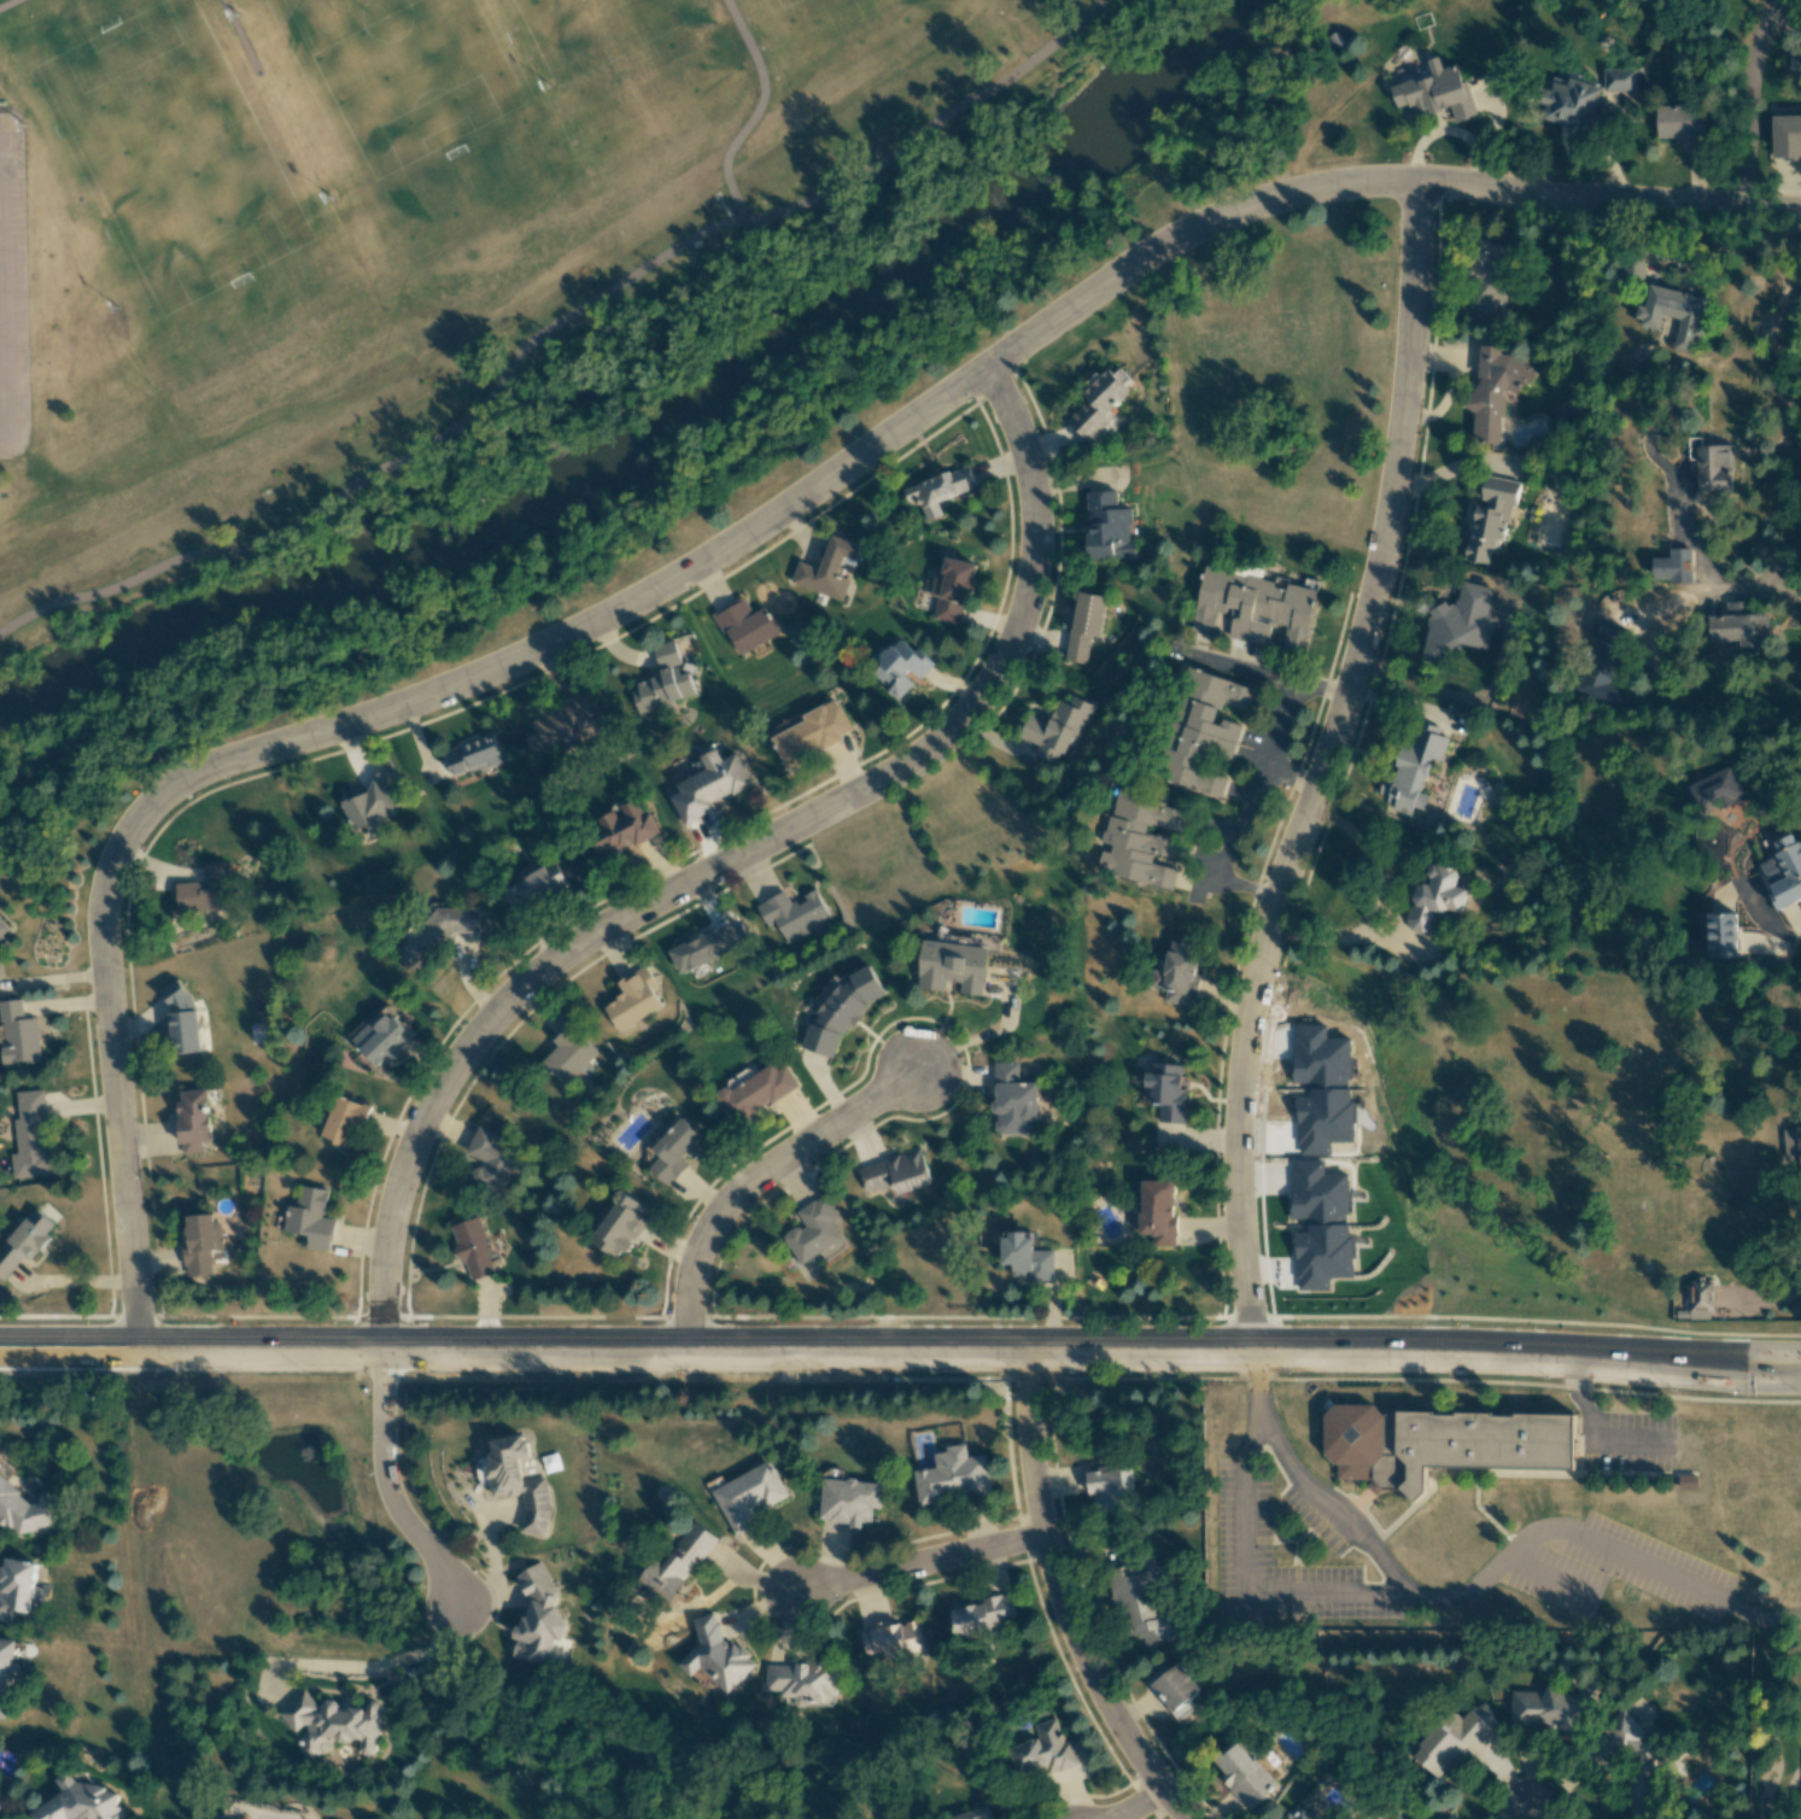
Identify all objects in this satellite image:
park: (767, 1)
road: (7, 4)
road: (240, 35)
park: (615, 39)
building: (1795, 68)
building: (1619, 78)
park: (388, 90)
building: (1435, 92)
road: (1737, 98)
building: (1569, 104)
road: (753, 110)
building: (1680, 122)
building: (1787, 136)
park: (173, 150)
park: (452, 255)
building: (1632, 268)
building: (1490, 279)
parking lot: (12, 291)
building: (1673, 314)
road: (549, 327)
building: (1493, 391)
road: (0, 396)
building: (1098, 404)
river: (661, 431)
road: (1784, 437)
building: (1712, 466)
building: (938, 491)
building: (1490, 519)
building: (1107, 527)
road: (719, 545)
building: (1673, 563)
building: (828, 569)
building: (952, 590)
road: (1698, 590)
building: (1255, 607)
building: (1458, 624)
building: (745, 625)
building: (1086, 625)
building: (1739, 626)
building: (901, 667)
building: (1602, 668)
building: (663, 682)
building: (560, 725)
building: (1057, 729)
building: (1205, 732)
building: (811, 735)
building: (474, 755)
road: (1318, 765)
building: (1414, 767)
road: (1290, 774)
building: (708, 785)
road: (1257, 785)
building: (1717, 790)
building: (374, 800)
building: (621, 829)
building: (1140, 840)
road: (731, 859)
building: (1784, 872)
building: (534, 887)
building: (204, 890)
building: (1435, 897)
road: (1379, 903)
building: (791, 914)
building: (2, 928)
building: (432, 932)
building: (1720, 932)
building: (708, 944)
building: (952, 965)
road: (49, 966)
building: (1177, 973)
building: (632, 999)
building: (840, 1010)
building: (182, 1018)
building: (17, 1034)
building: (382, 1037)
building: (569, 1054)
building: (1166, 1092)
building: (755, 1093)
building: (1013, 1100)
building: (193, 1119)
building: (345, 1121)
building: (30, 1136)
building: (1793, 1142)
building: (676, 1151)
building: (491, 1159)
building: (896, 1172)
road: (759, 1178)
building: (1158, 1211)
building: (310, 1218)
building: (619, 1224)
building: (812, 1230)
building: (24, 1241)
building: (201, 1244)
building: (473, 1247)
building: (1027, 1258)
building: (1698, 1300)
road: (1767, 1302)
road: (900, 1346)
road: (1578, 1399)
building: (1445, 1441)
road: (1631, 1444)
building: (0, 1464)
building: (952, 1476)
road: (385, 1479)
building: (519, 1482)
building: (1112, 1487)
building: (749, 1496)
building: (847, 1503)
building: (19, 1510)
parking lot: (1241, 1514)
parking lot: (1317, 1525)
building: (679, 1561)
road: (916, 1564)
road: (1241, 1584)
road: (1469, 1585)
building: (16, 1586)
road: (1058, 1597)
building: (1139, 1602)
building: (984, 1614)
building: (538, 1618)
building: (894, 1639)
road: (351, 1655)
building: (717, 1655)
building: (6, 1672)
building: (803, 1681)
building: (1173, 1686)
building: (1549, 1712)
building: (332, 1724)
building: (1456, 1741)
building: (1042, 1750)
building: (1633, 1761)
building: (1244, 1776)
building: (80, 1802)
road: (1136, 1805)
building: (4, 1807)
building: (975, 1813)
building: (1300, 1815)
road: (1526, 1818)

